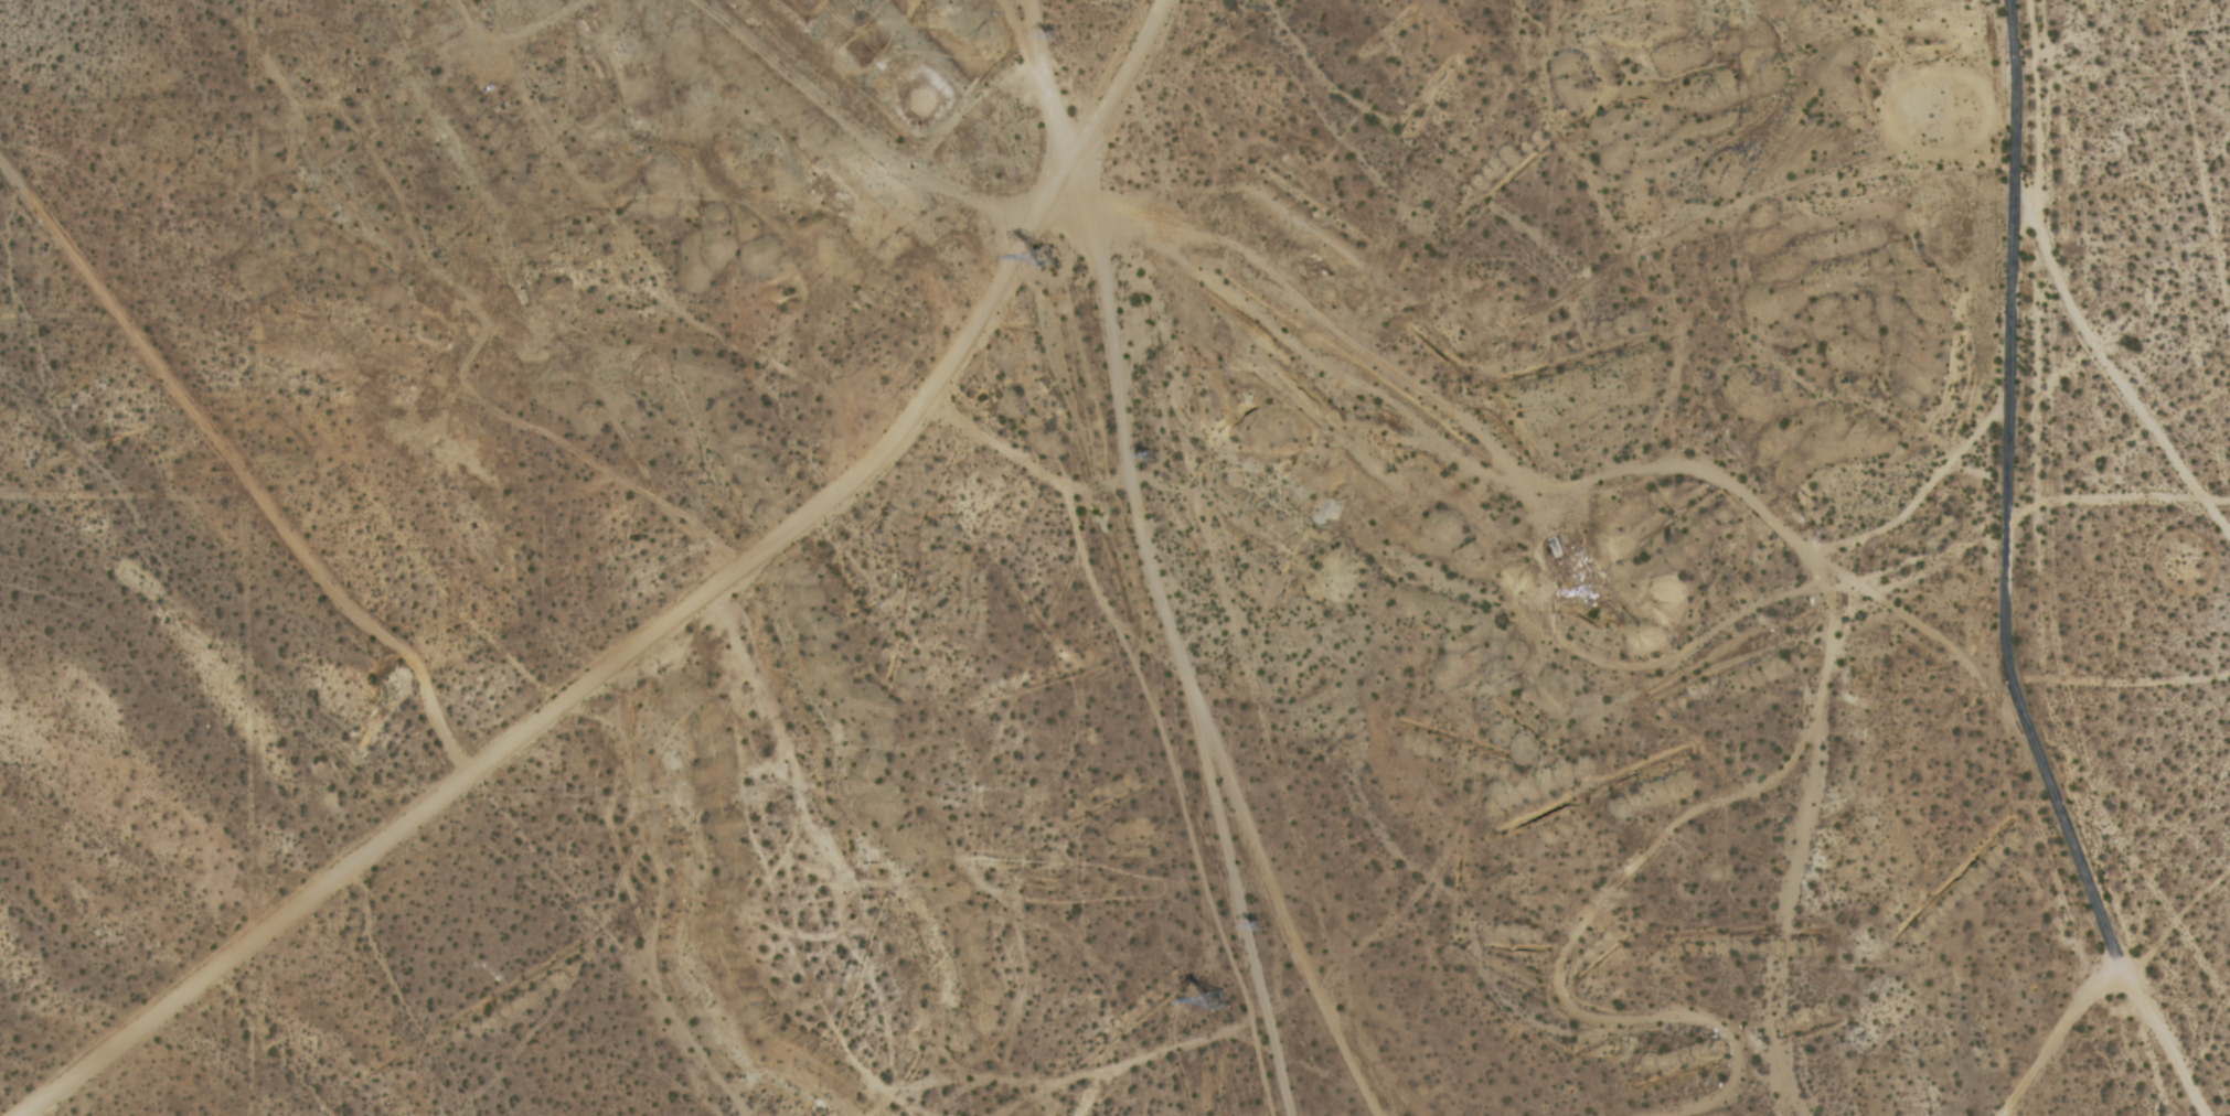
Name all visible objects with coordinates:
power tower: (1058, 41)
power tower: (1056, 262)
crop: (2055, 408)
power tower: (1165, 458)
road: (2002, 492)
road: (1148, 559)
road: (670, 621)
power tower: (1263, 930)
power tower: (1238, 1004)
road: (2048, 1032)
road: (2163, 1039)

